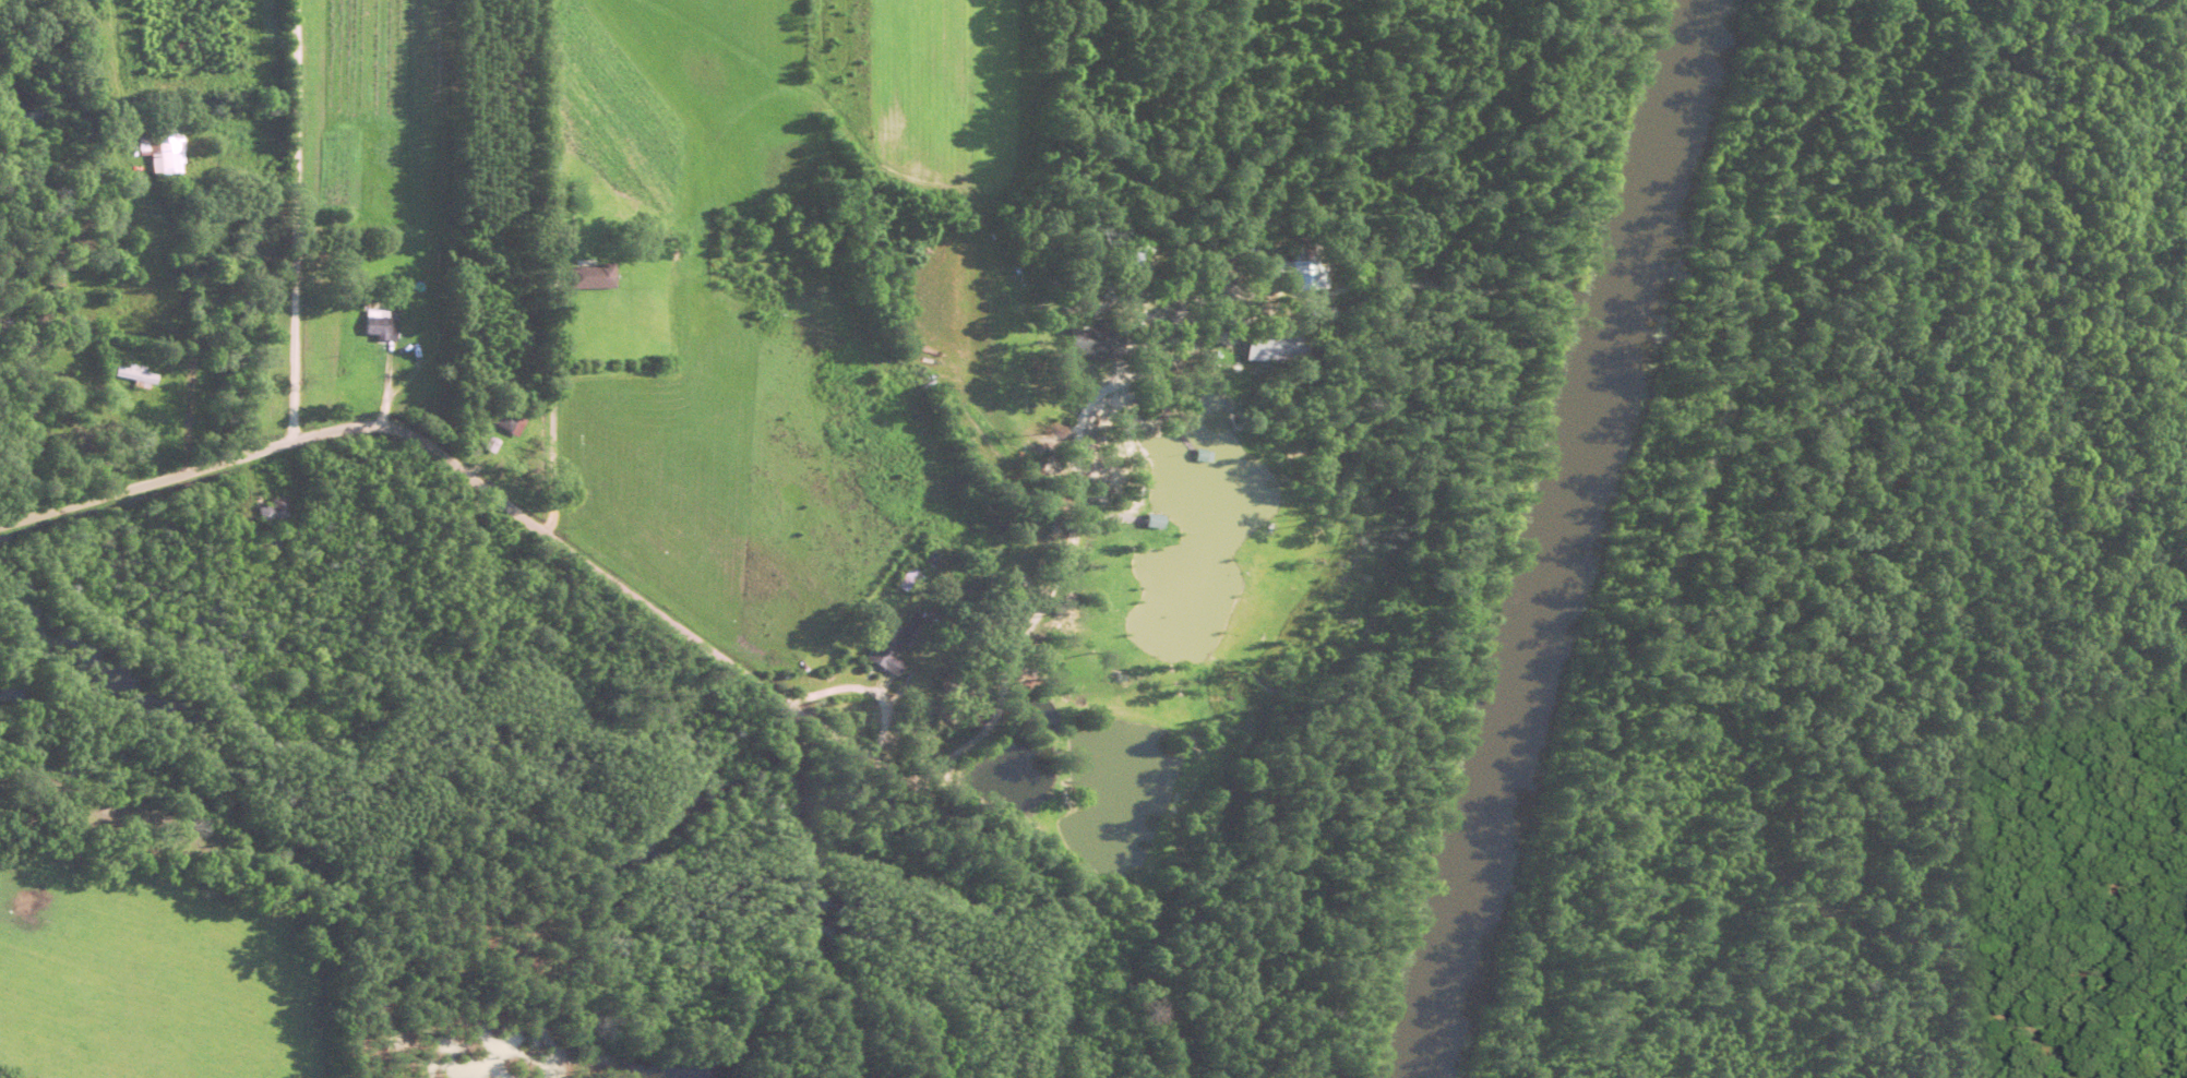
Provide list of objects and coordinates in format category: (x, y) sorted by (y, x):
road: (475, 483)
road: (1173, 1077)

